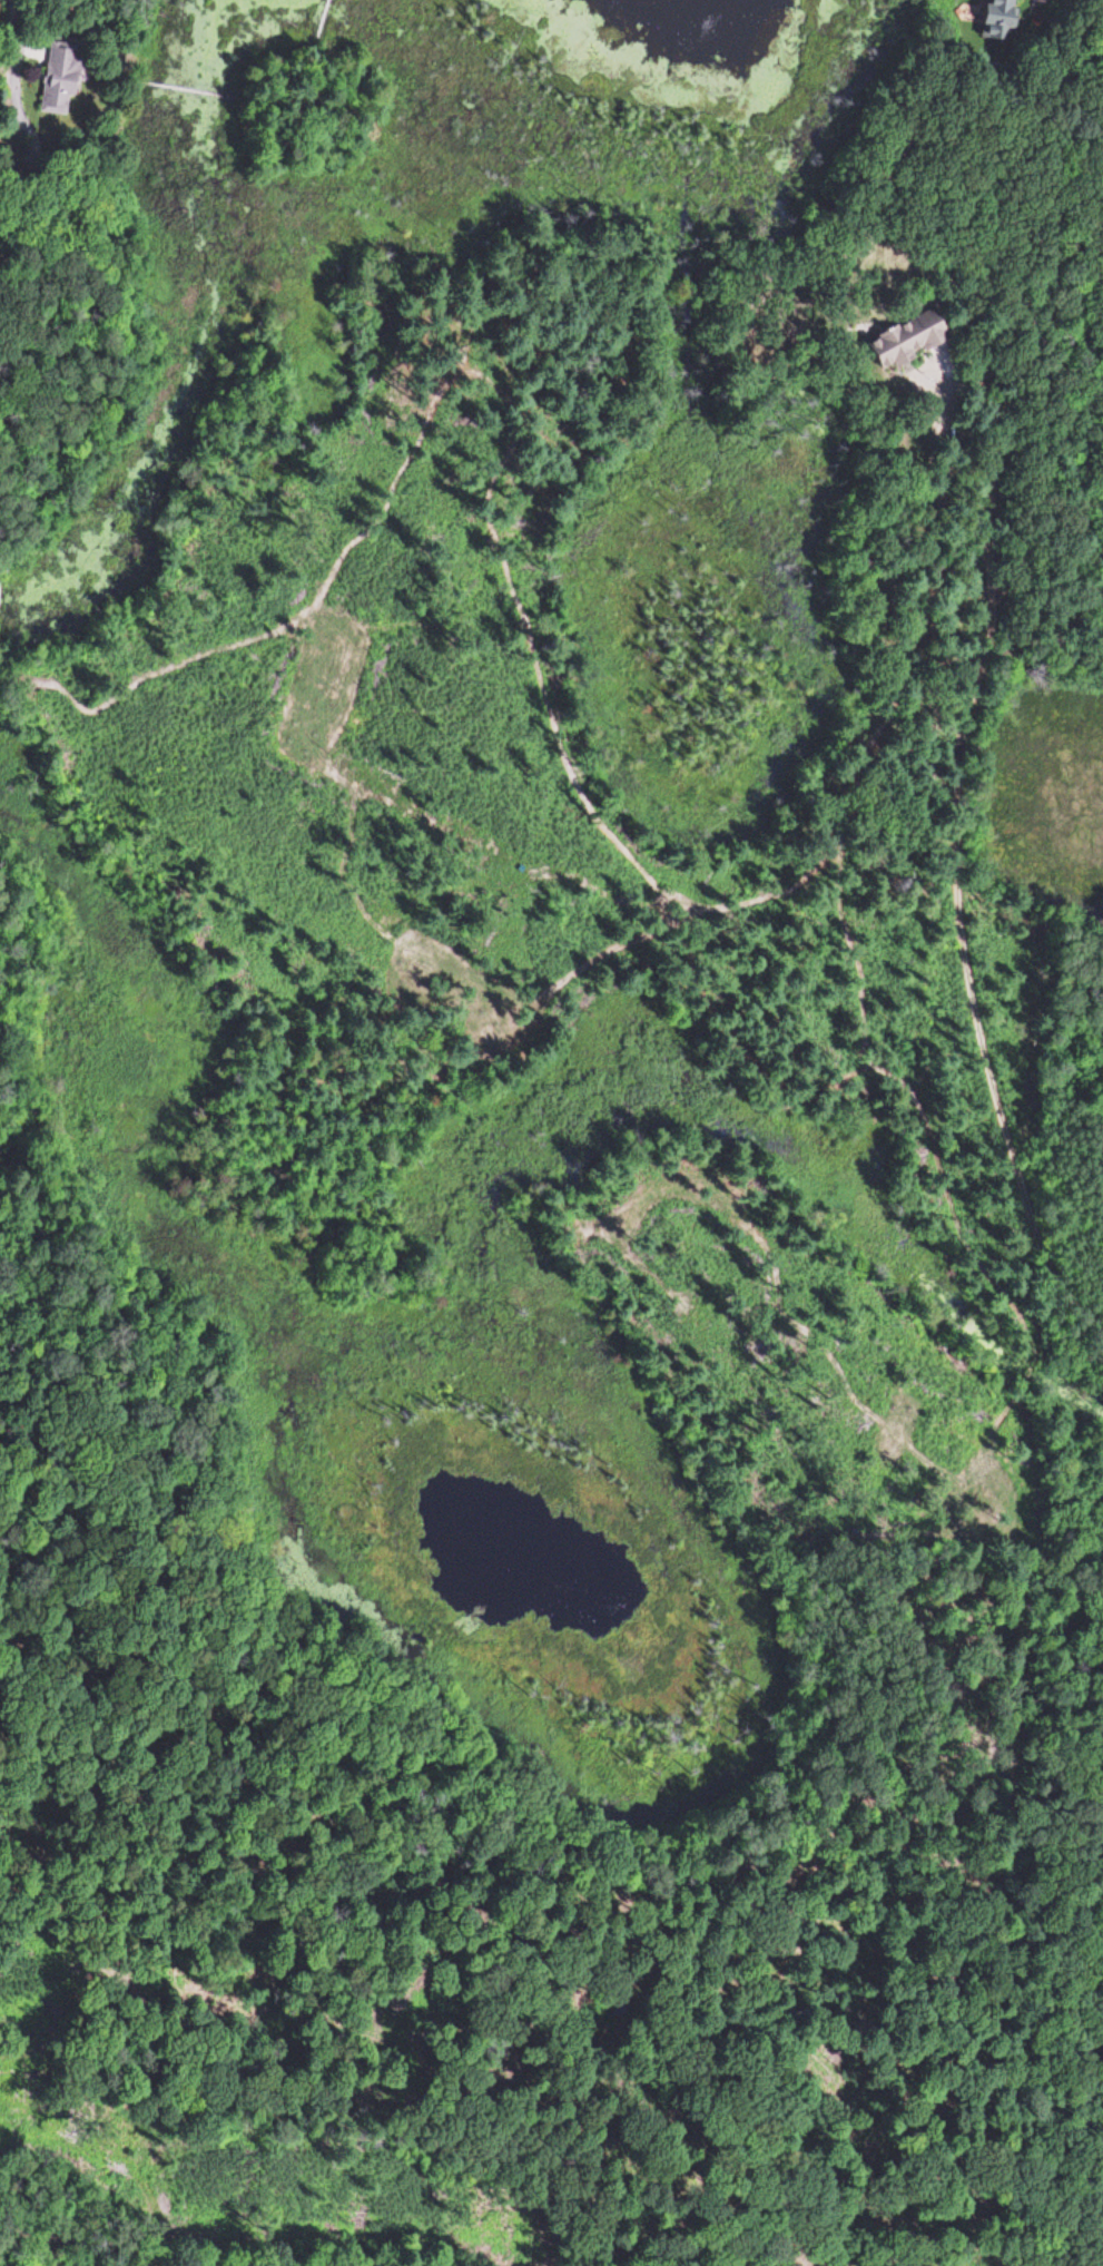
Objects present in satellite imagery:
building: (995, 19)
building: (55, 76)
building: (900, 339)
road: (953, 766)
road: (73, 2254)
road: (137, 2264)
road: (180, 2264)

